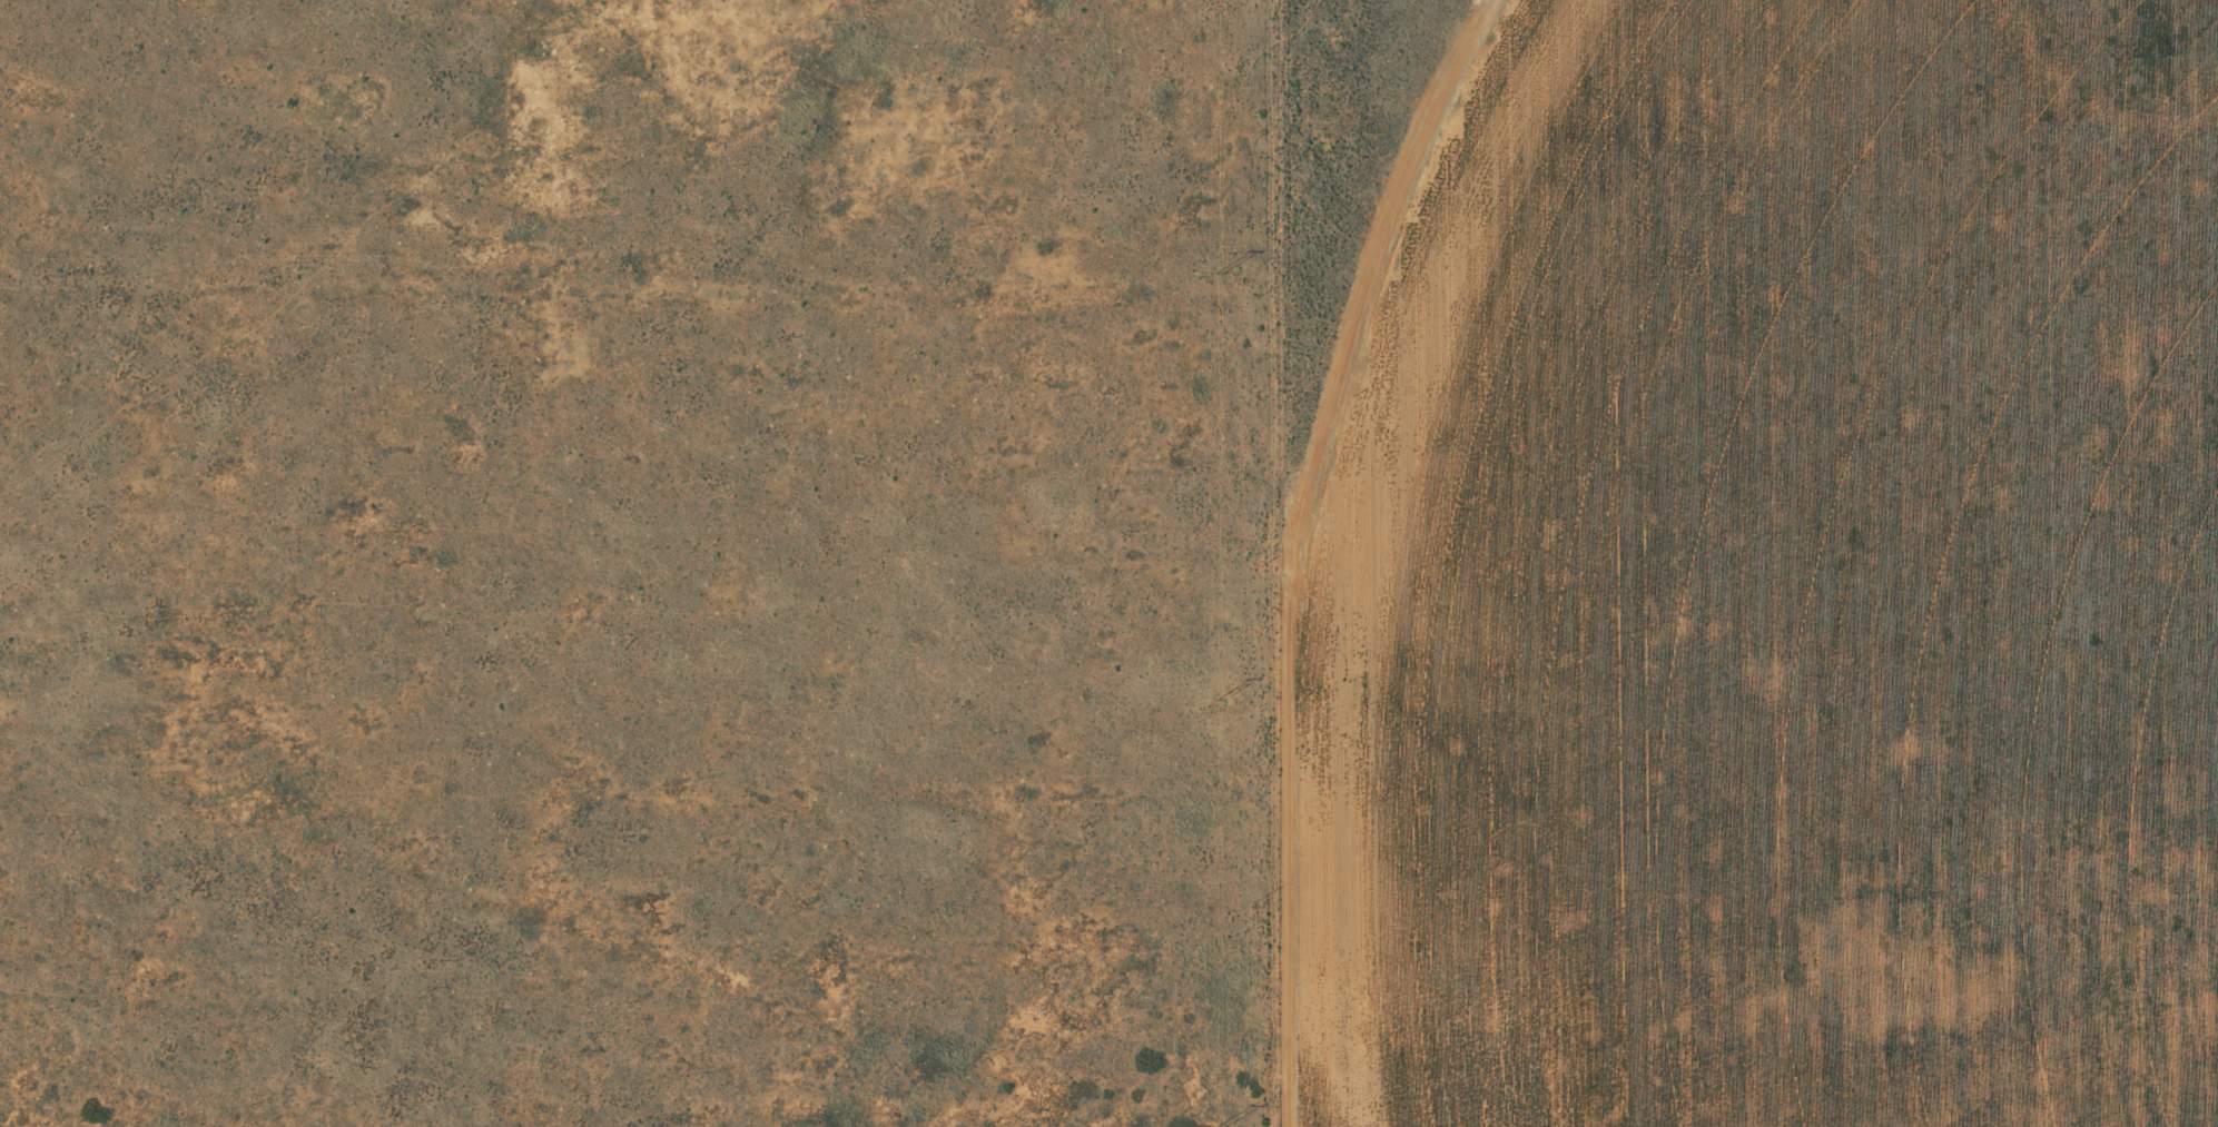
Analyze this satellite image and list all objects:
power tower: (1221, 275)
road: (1266, 563)
power tower: (1220, 701)
power tower: (1222, 1126)

